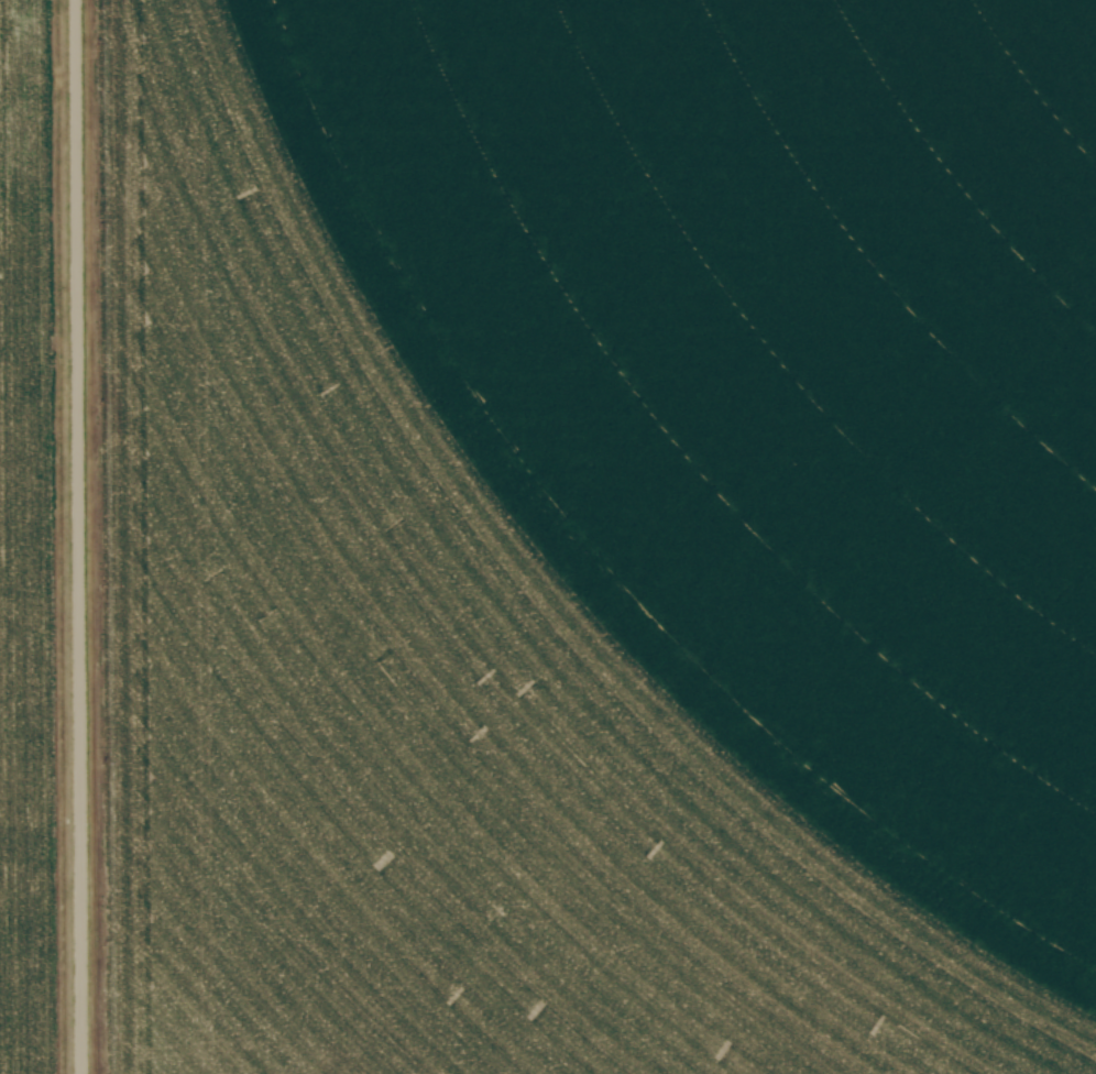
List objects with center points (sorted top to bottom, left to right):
building: (627, 384)
road: (80, 536)

